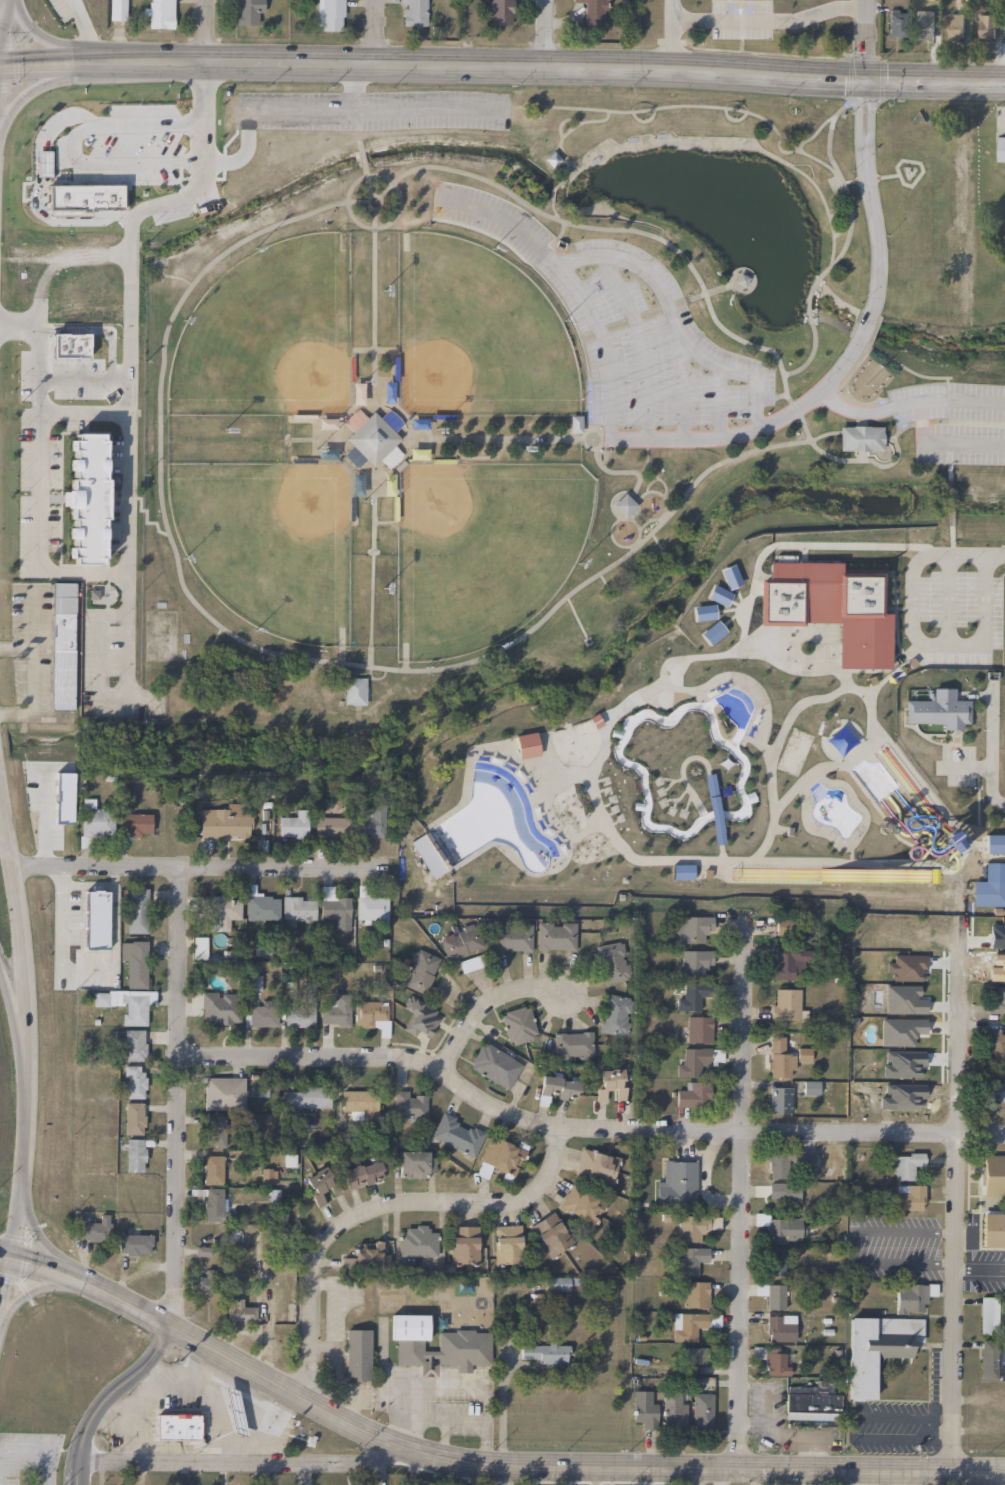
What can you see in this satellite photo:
road: (2, 3)
building: (117, 10)
building: (592, 11)
building: (248, 12)
building: (500, 12)
building: (413, 13)
building: (160, 14)
building: (329, 15)
road: (768, 19)
building: (896, 23)
building: (923, 24)
building: (954, 26)
road: (82, 27)
building: (986, 27)
road: (211, 31)
road: (376, 31)
road: (547, 33)
road: (667, 33)
road: (6, 36)
road: (867, 38)
road: (55, 44)
road: (502, 65)
traffic signals: (1, 73)
traffic signals: (866, 77)
road: (0, 78)
road: (42, 84)
road: (354, 87)
road: (652, 110)
parking lot: (371, 111)
road: (371, 111)
road: (532, 118)
road: (731, 120)
road: (561, 121)
road: (642, 122)
road: (813, 135)
road: (555, 147)
building: (1000, 149)
road: (612, 153)
road: (783, 154)
road: (815, 159)
road: (362, 169)
road: (499, 176)
road: (572, 177)
road: (903, 184)
road: (843, 188)
road: (552, 189)
road: (815, 192)
road: (868, 193)
road: (377, 205)
road: (615, 216)
road: (390, 221)
road: (839, 223)
fountain: (751, 226)
road: (484, 233)
road: (637, 233)
road: (177, 277)
building: (740, 280)
pier: (740, 280)
road: (570, 284)
road: (696, 296)
road: (663, 301)
road: (806, 305)
road: (372, 307)
road: (568, 320)
road: (865, 324)
parking lot: (624, 326)
park: (475, 336)
park: (267, 337)
road: (638, 345)
road: (808, 358)
road: (900, 366)
road: (945, 380)
park: (534, 381)
flagpole: (862, 385)
road: (680, 386)
road: (837, 391)
road: (777, 395)
road: (960, 401)
road: (717, 404)
road: (753, 405)
road: (905, 405)
road: (80, 412)
road: (853, 413)
road: (859, 420)
parking lot: (952, 422)
building: (575, 424)
road: (751, 431)
road: (823, 434)
road: (886, 438)
building: (370, 440)
road: (507, 440)
building: (860, 440)
road: (941, 445)
road: (405, 451)
building: (417, 454)
road: (603, 456)
road: (859, 457)
road: (947, 461)
road: (646, 464)
road: (875, 465)
road: (615, 472)
road: (657, 479)
road: (125, 483)
road: (641, 495)
road: (949, 502)
building: (86, 505)
building: (623, 505)
road: (144, 515)
road: (663, 517)
road: (642, 524)
park: (266, 545)
road: (657, 545)
park: (481, 552)
road: (994, 555)
road: (369, 572)
building: (730, 576)
road: (603, 584)
road: (737, 594)
building: (718, 595)
road: (947, 599)
road: (732, 603)
parking lot: (953, 604)
building: (829, 607)
road: (724, 610)
building: (703, 612)
road: (574, 617)
road: (728, 620)
building: (712, 632)
park: (159, 635)
road: (213, 638)
road: (918, 640)
road: (125, 644)
building: (62, 646)
road: (15, 648)
road: (265, 653)
road: (31, 654)
road: (339, 657)
road: (294, 664)
road: (368, 673)
road: (372, 678)
road: (879, 683)
road: (692, 690)
building: (353, 692)
road: (868, 700)
building: (938, 709)
road: (15, 715)
road: (602, 730)
water park: (749, 748)
road: (483, 749)
park: (792, 751)
road: (993, 753)
road: (970, 765)
road: (706, 771)
road: (665, 779)
road: (670, 781)
road: (678, 797)
road: (669, 799)
road: (686, 801)
road: (44, 818)
building: (94, 821)
building: (223, 822)
building: (370, 823)
building: (135, 825)
building: (293, 826)
building: (329, 827)
road: (766, 839)
road: (851, 839)
building: (947, 839)
building: (994, 844)
road: (921, 858)
road: (648, 859)
road: (196, 863)
road: (58, 875)
building: (925, 875)
road: (85, 887)
building: (260, 905)
building: (370, 907)
building: (298, 908)
building: (136, 910)
building: (223, 911)
building: (335, 911)
road: (111, 916)
building: (785, 927)
building: (692, 928)
building: (555, 935)
building: (512, 937)
building: (460, 941)
building: (198, 948)
road: (59, 953)
building: (785, 961)
building: (613, 962)
building: (694, 962)
building: (419, 970)
building: (252, 982)
building: (692, 996)
building: (997, 1001)
road: (483, 1002)
building: (785, 1005)
building: (218, 1008)
building: (614, 1014)
road: (28, 1015)
building: (334, 1015)
building: (372, 1015)
building: (259, 1016)
building: (419, 1016)
building: (299, 1018)
road: (15, 1024)
building: (518, 1025)
building: (698, 1029)
building: (133, 1044)
building: (996, 1044)
building: (572, 1046)
building: (802, 1055)
building: (780, 1060)
building: (692, 1061)
building: (494, 1065)
building: (134, 1082)
building: (609, 1082)
building: (816, 1087)
building: (557, 1088)
building: (998, 1091)
building: (223, 1093)
road: (178, 1095)
building: (692, 1095)
building: (305, 1098)
building: (779, 1100)
building: (359, 1104)
building: (409, 1105)
building: (133, 1118)
road: (582, 1128)
building: (457, 1135)
building: (217, 1137)
building: (135, 1155)
building: (499, 1157)
building: (787, 1161)
building: (414, 1163)
building: (905, 1165)
building: (596, 1167)
building: (211, 1169)
building: (362, 1174)
building: (993, 1175)
building: (676, 1183)
building: (319, 1185)
road: (738, 1189)
building: (783, 1193)
building: (908, 1198)
building: (211, 1204)
building: (581, 1206)
road: (381, 1207)
building: (689, 1228)
road: (953, 1228)
building: (96, 1230)
building: (992, 1230)
building: (785, 1231)
building: (550, 1234)
building: (415, 1241)
road: (41, 1242)
building: (133, 1242)
building: (507, 1244)
building: (463, 1245)
road: (852, 1245)
parking lot: (894, 1248)
traffic signals: (13, 1253)
building: (367, 1256)
building: (689, 1260)
parking lot: (979, 1261)
building: (776, 1263)
road: (979, 1270)
road: (6, 1284)
building: (559, 1285)
road: (42, 1286)
building: (204, 1286)
building: (694, 1294)
building: (771, 1295)
building: (912, 1298)
building: (239, 1312)
building: (989, 1315)
building: (692, 1325)
building: (780, 1327)
building: (463, 1346)
building: (877, 1348)
building: (544, 1354)
building: (357, 1355)
building: (694, 1355)
building: (988, 1359)
building: (772, 1360)
road: (186, 1364)
road: (451, 1384)
building: (226, 1385)
road: (106, 1395)
road: (141, 1402)
road: (208, 1402)
building: (812, 1402)
parking lot: (764, 1404)
building: (644, 1409)
building: (674, 1409)
building: (701, 1409)
road: (445, 1421)
road: (254, 1424)
road: (752, 1424)
road: (852, 1424)
building: (180, 1426)
road: (939, 1432)
road: (770, 1433)
road: (132, 1443)
road: (40, 1452)
road: (259, 1463)
road: (478, 1464)
road: (690, 1476)

